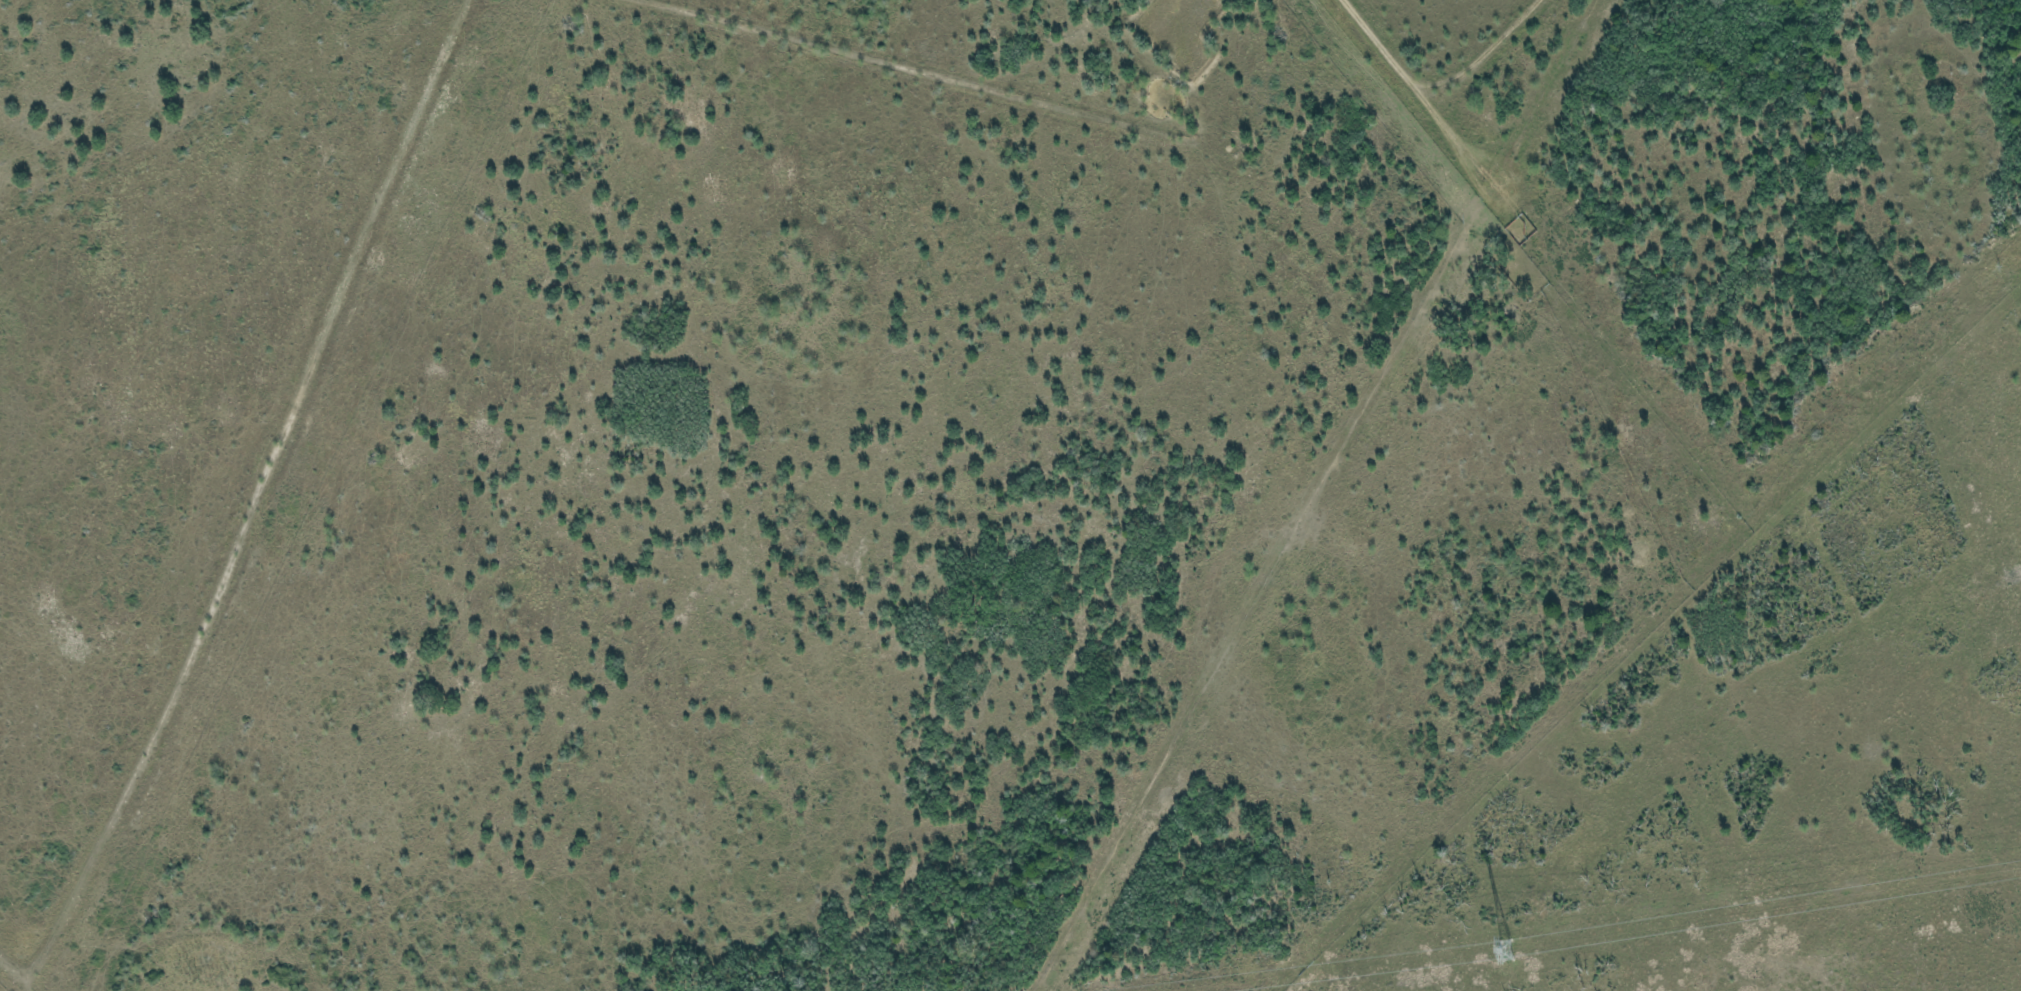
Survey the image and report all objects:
power tower: (1505, 949)

